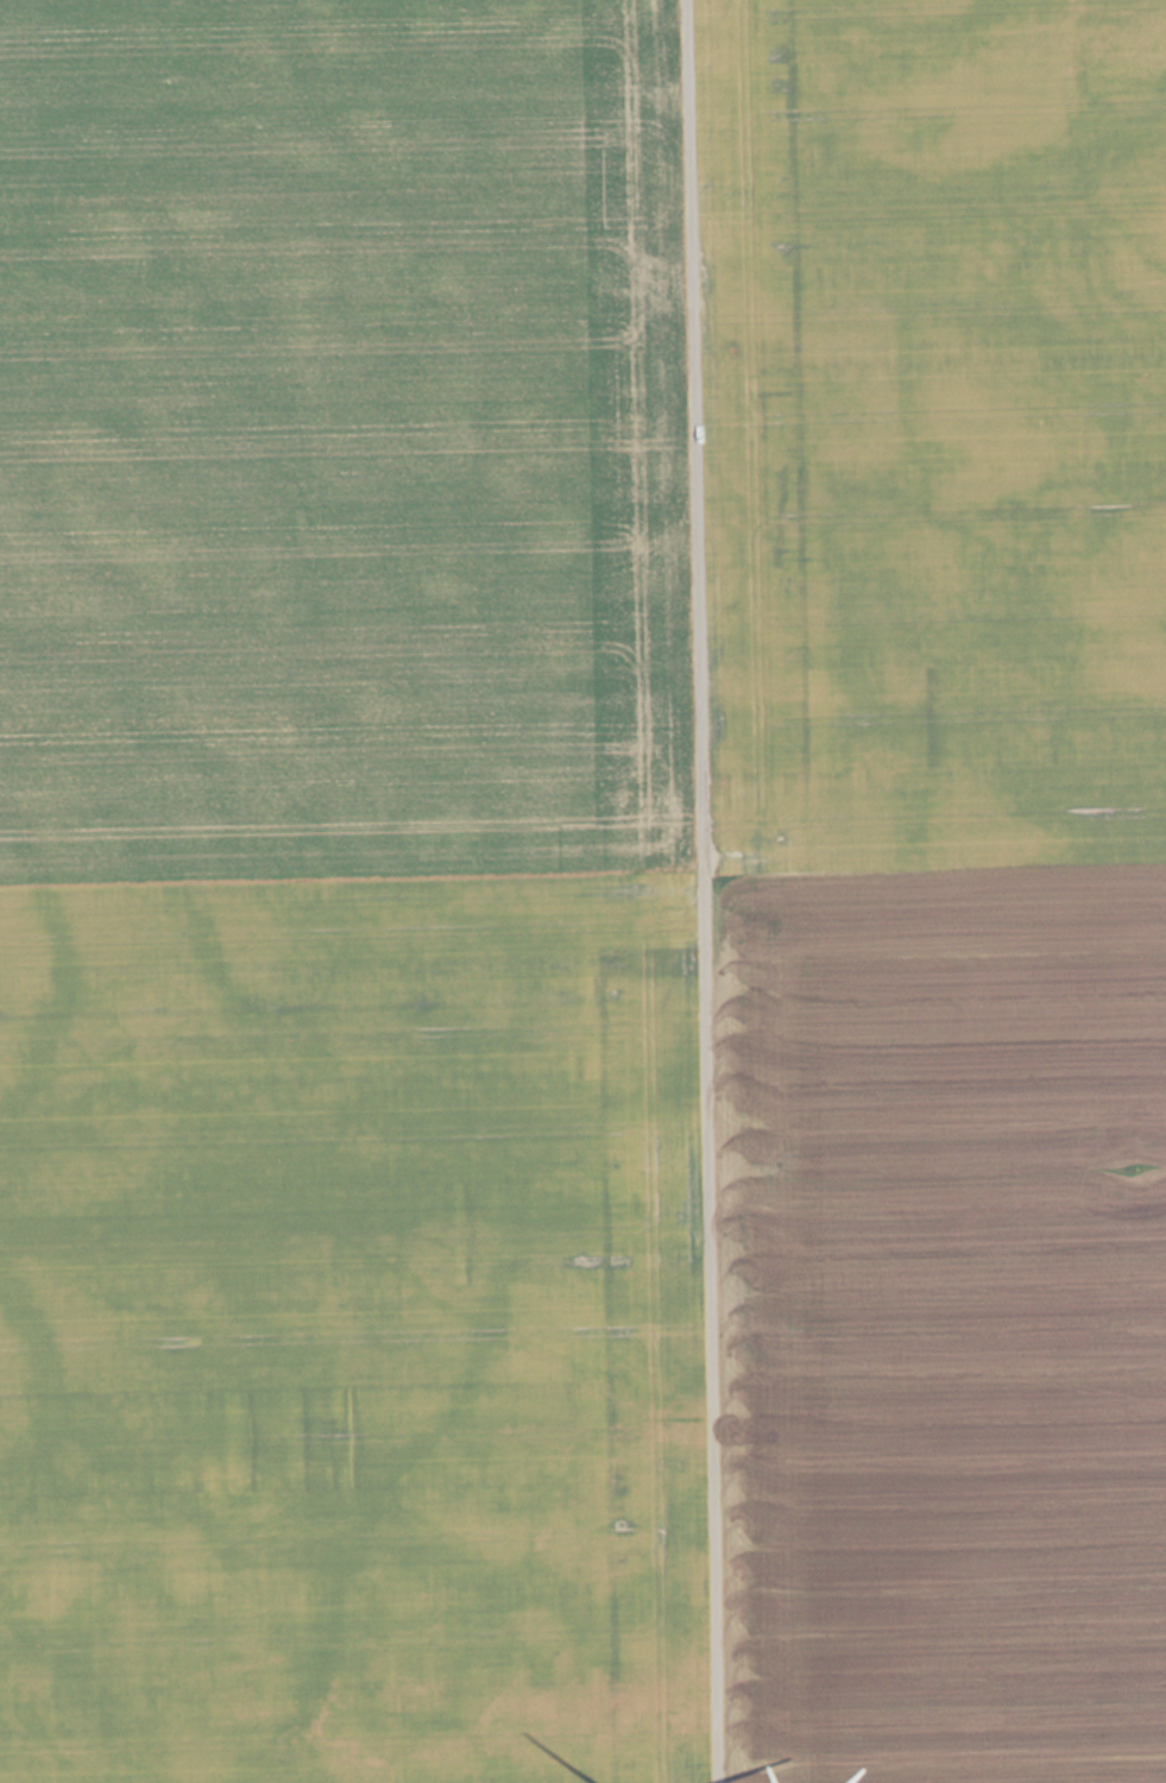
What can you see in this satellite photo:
road: (707, 892)

